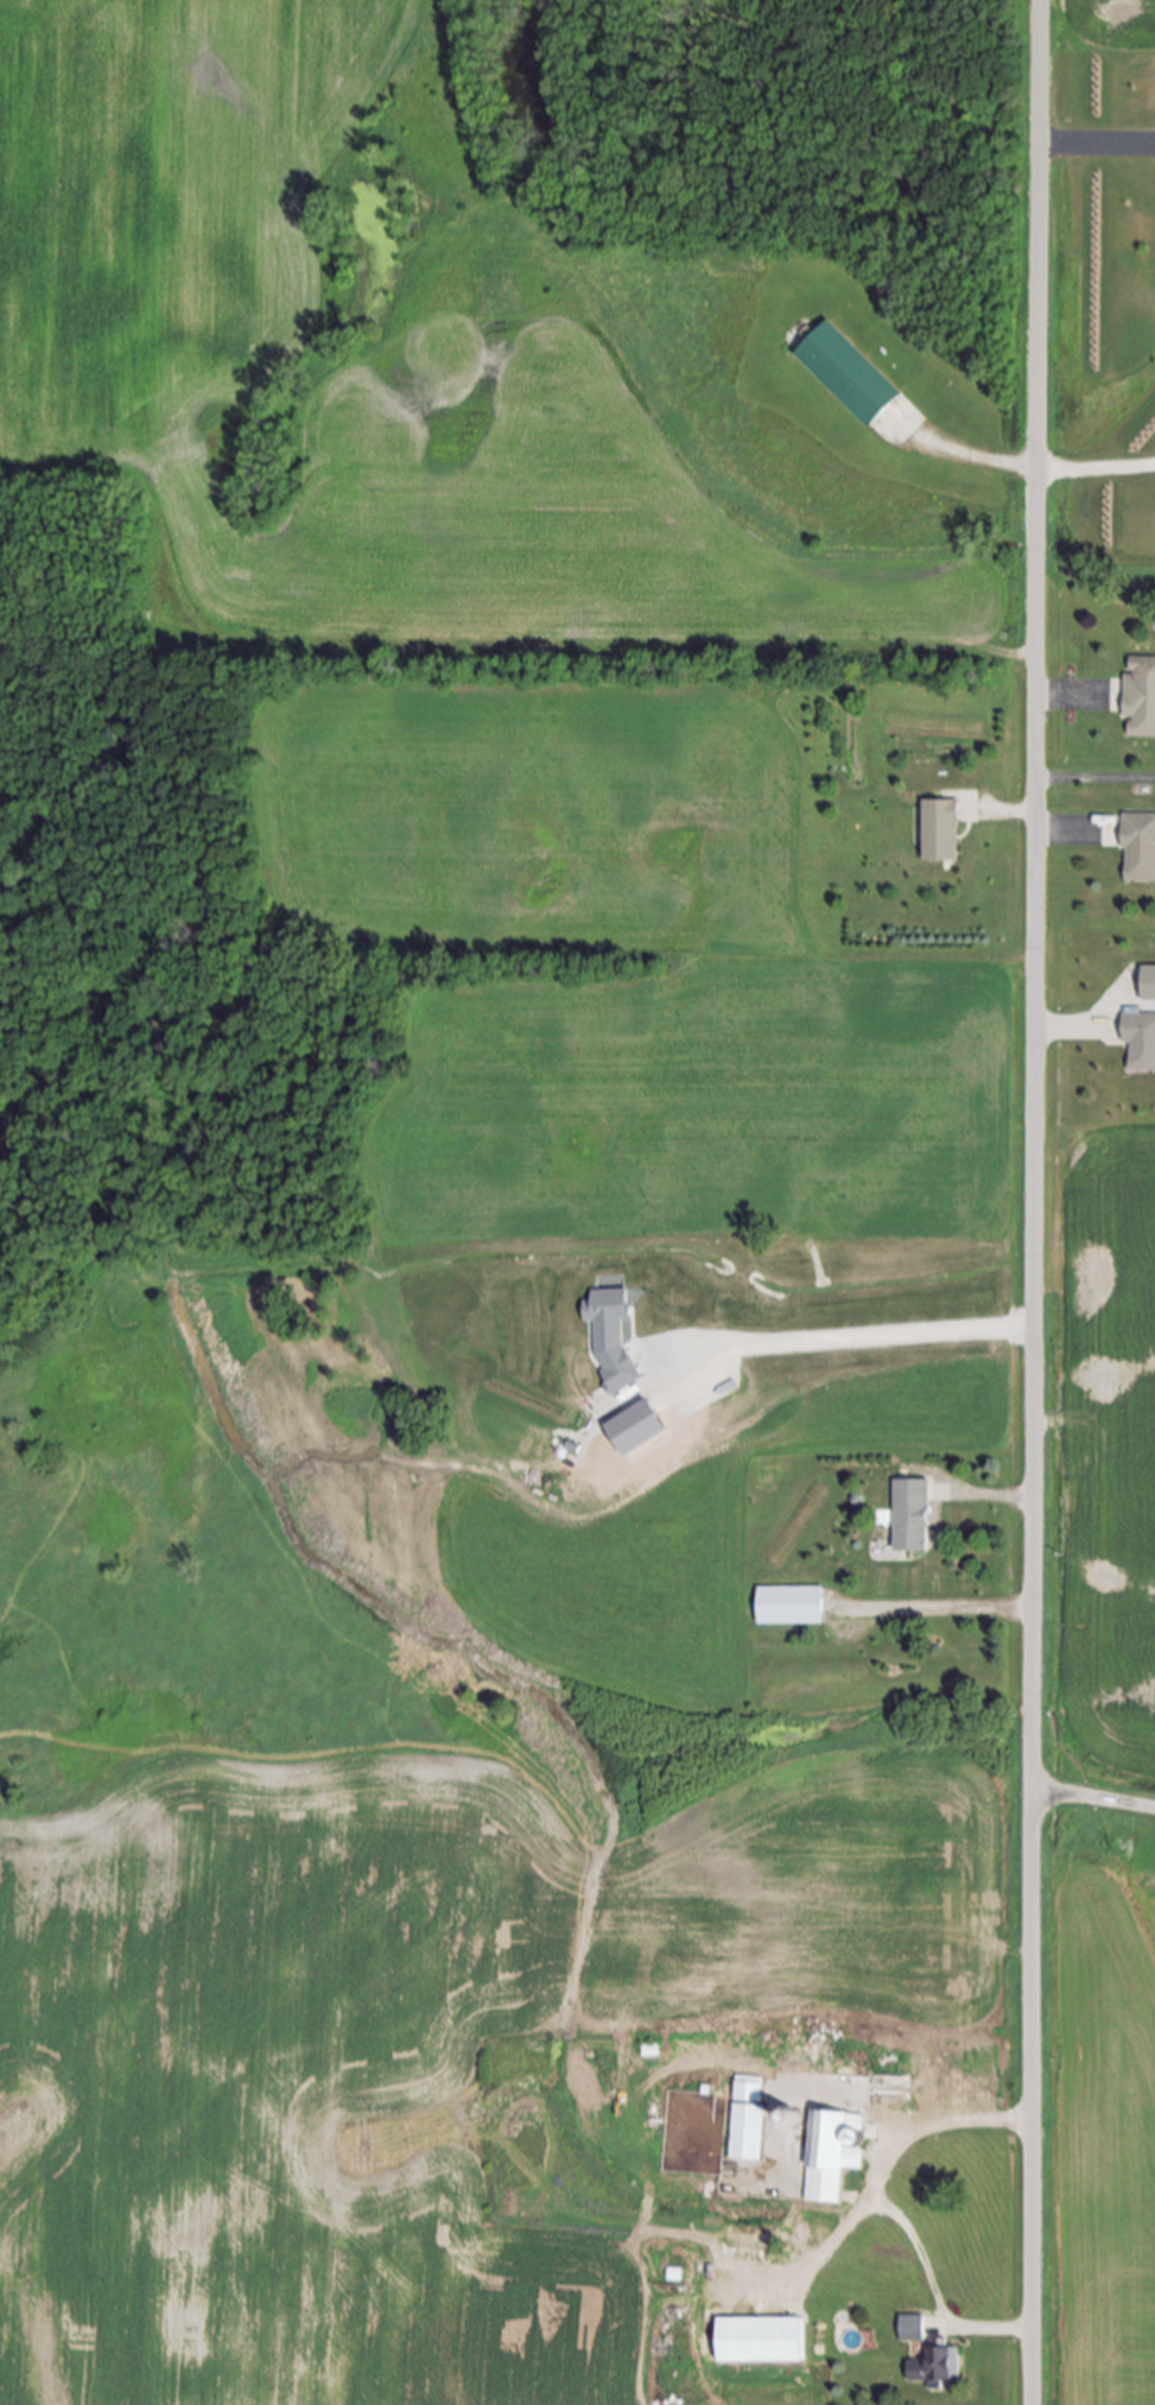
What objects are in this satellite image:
crop: (1100, 23)
road: (1096, 146)
crop: (356, 373)
building: (857, 384)
road: (983, 457)
road: (1094, 467)
road: (1066, 696)
building: (1140, 698)
road: (1013, 812)
building: (939, 831)
road: (1065, 833)
building: (1138, 849)
crop: (810, 966)
building: (1148, 983)
road: (1068, 1033)
building: (1140, 1045)
road: (1035, 1202)
building: (614, 1334)
road: (850, 1336)
crop: (1099, 1460)
road: (991, 1496)
building: (912, 1513)
building: (789, 1606)
road: (946, 1609)
road: (1094, 1797)
crop: (407, 2015)
crop: (1097, 2106)
building: (795, 2119)
building: (751, 2122)
building: (836, 2157)
road: (889, 2164)
road: (939, 2291)
building: (915, 2333)
building: (762, 2343)
building: (940, 2371)

